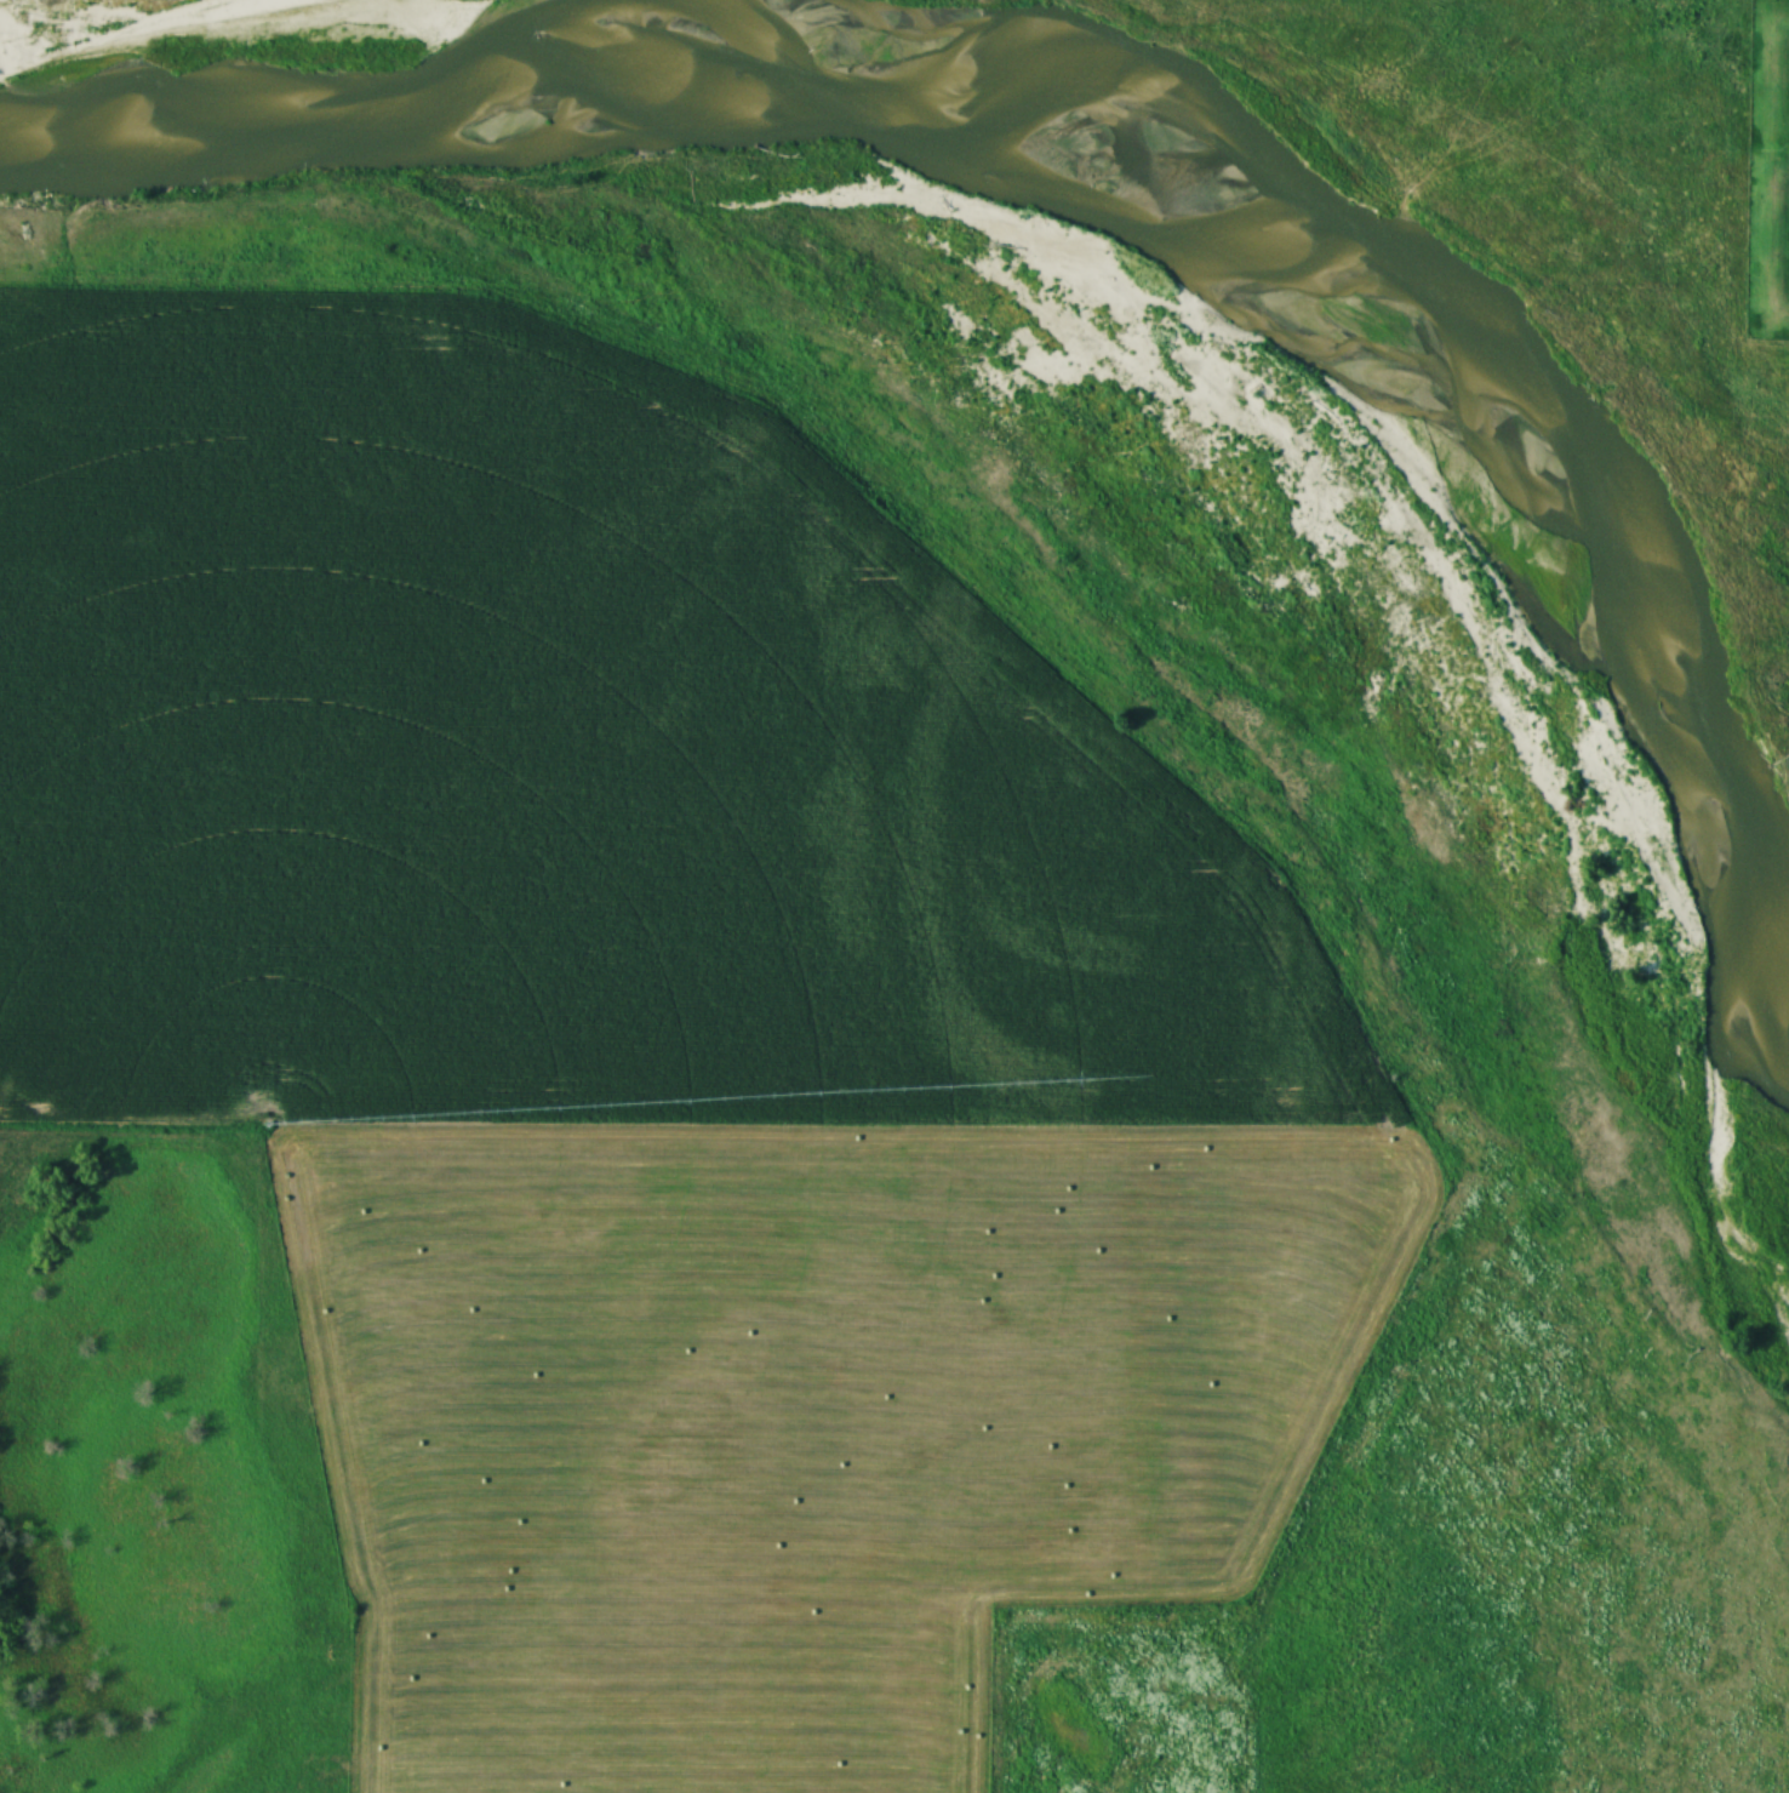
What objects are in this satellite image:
river: (1088, 141)

